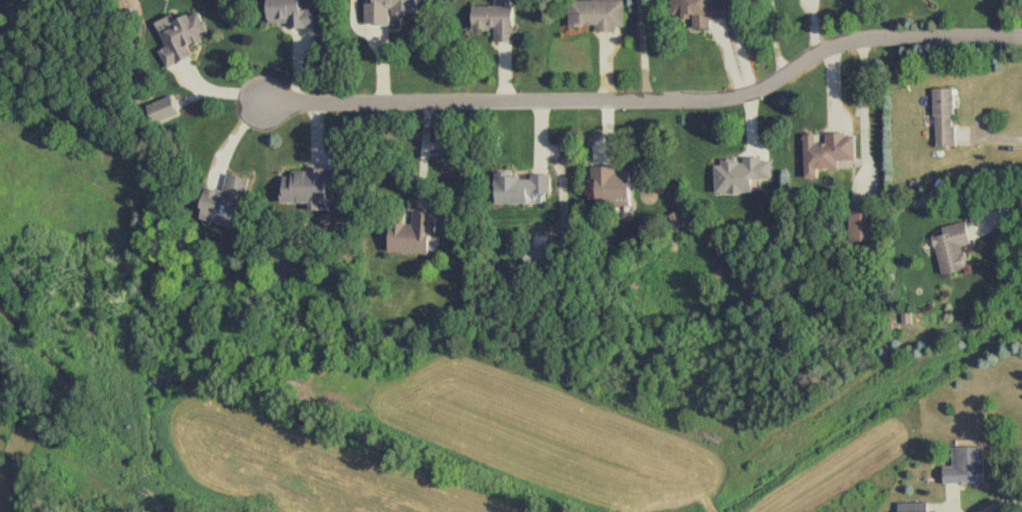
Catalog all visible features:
building: (387, 10)
building: (698, 11)
building: (287, 13)
building: (597, 14)
building: (494, 21)
building: (180, 37)
road: (647, 49)
road: (647, 99)
building: (161, 111)
building: (944, 118)
building: (826, 152)
building: (739, 174)
building: (305, 186)
building: (518, 187)
building: (610, 187)
building: (222, 202)
building: (858, 214)
building: (412, 236)
building: (951, 247)
building: (535, 260)
building: (965, 465)
road: (1002, 503)
building: (912, 507)

